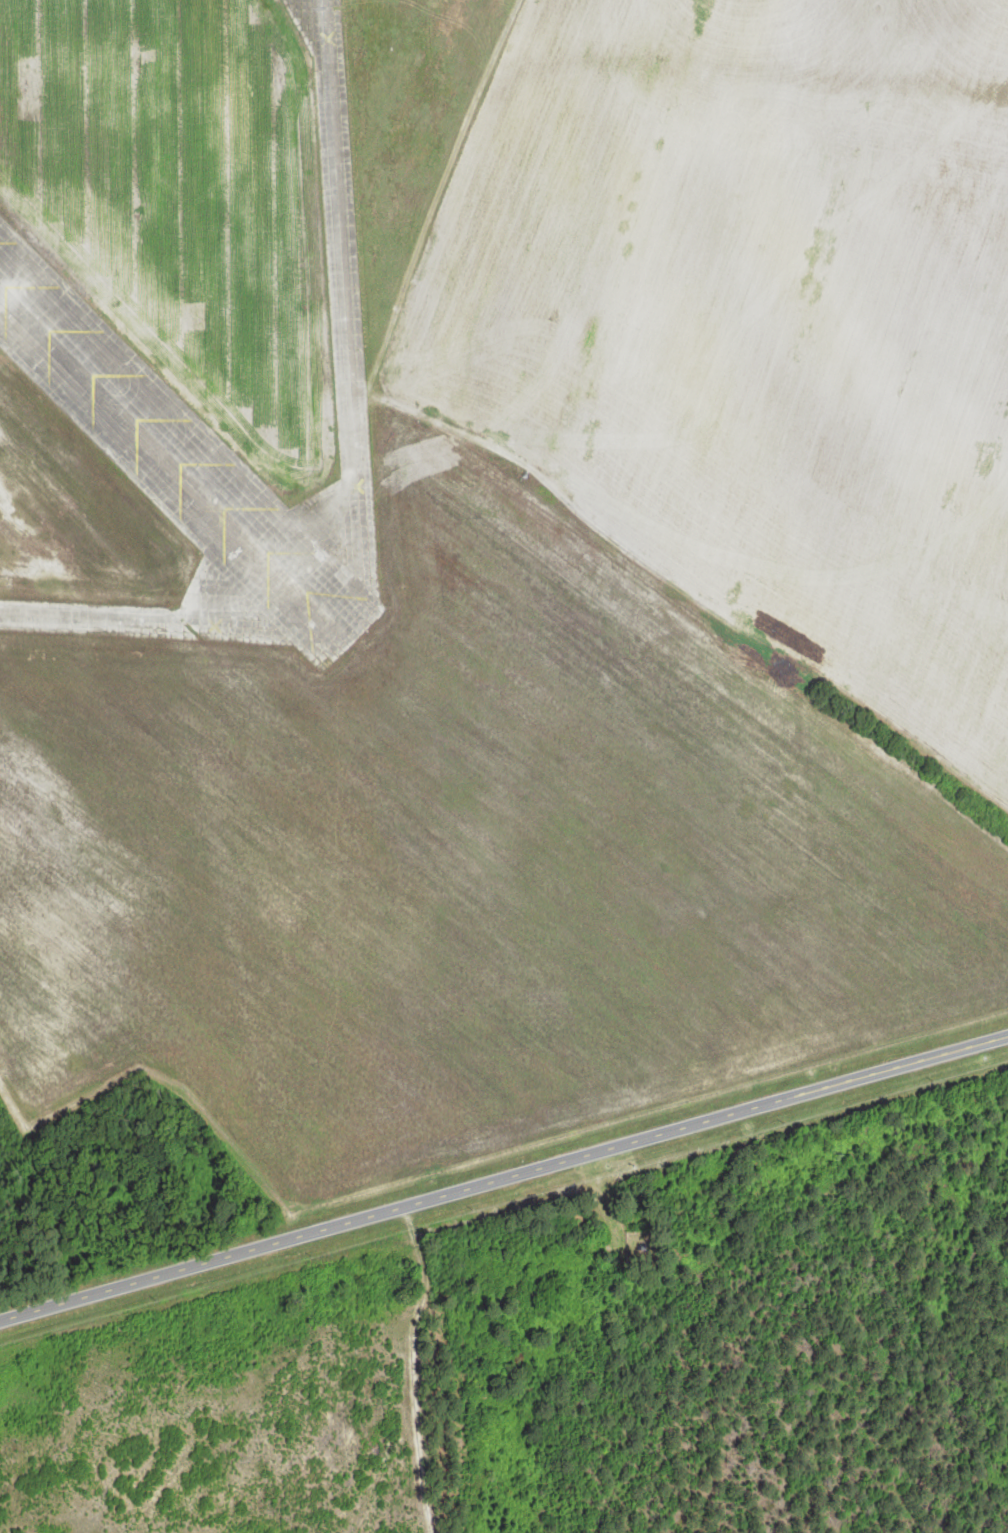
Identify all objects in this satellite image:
airport taxiway: (264, 545)
road: (504, 1179)

